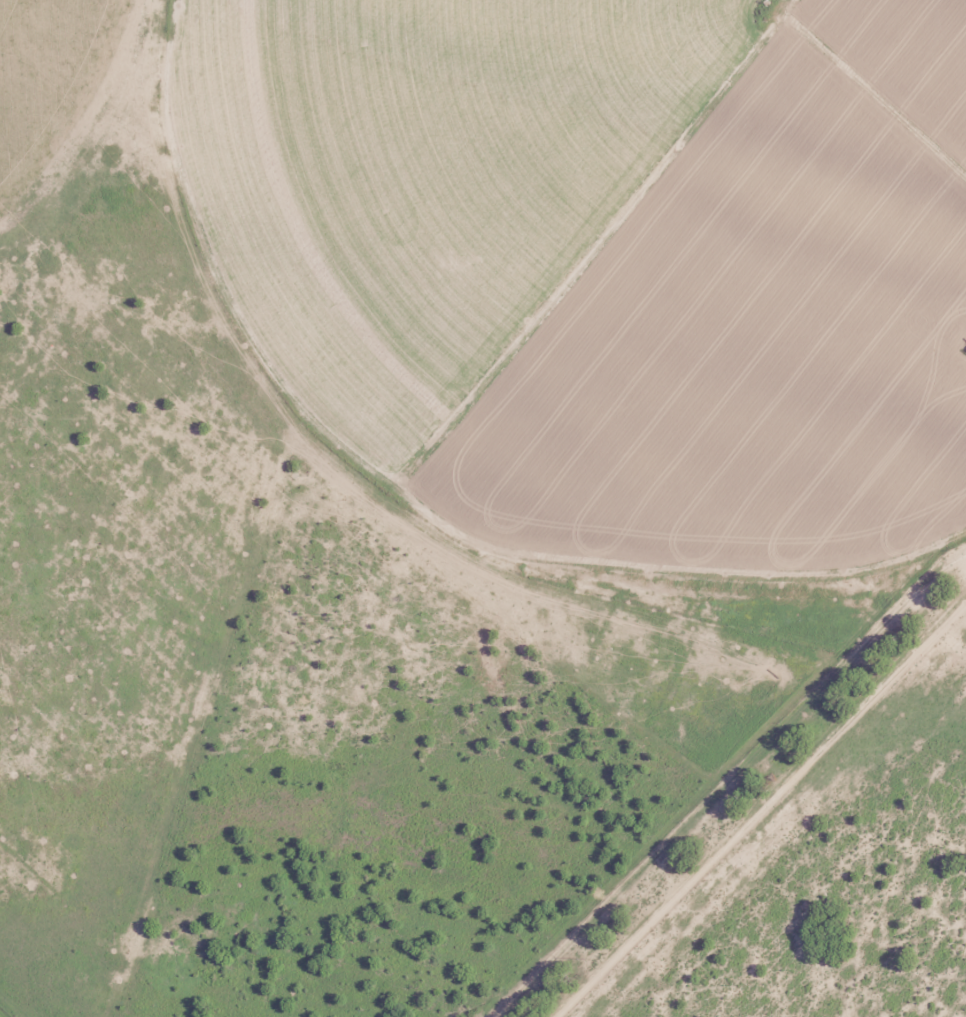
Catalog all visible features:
road: (757, 804)

